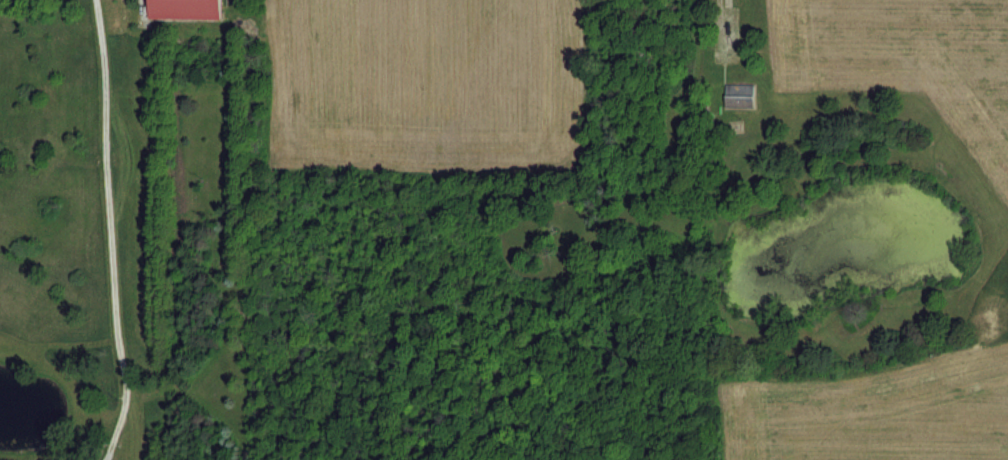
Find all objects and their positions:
building: (184, 9)
building: (739, 96)
road: (108, 231)

